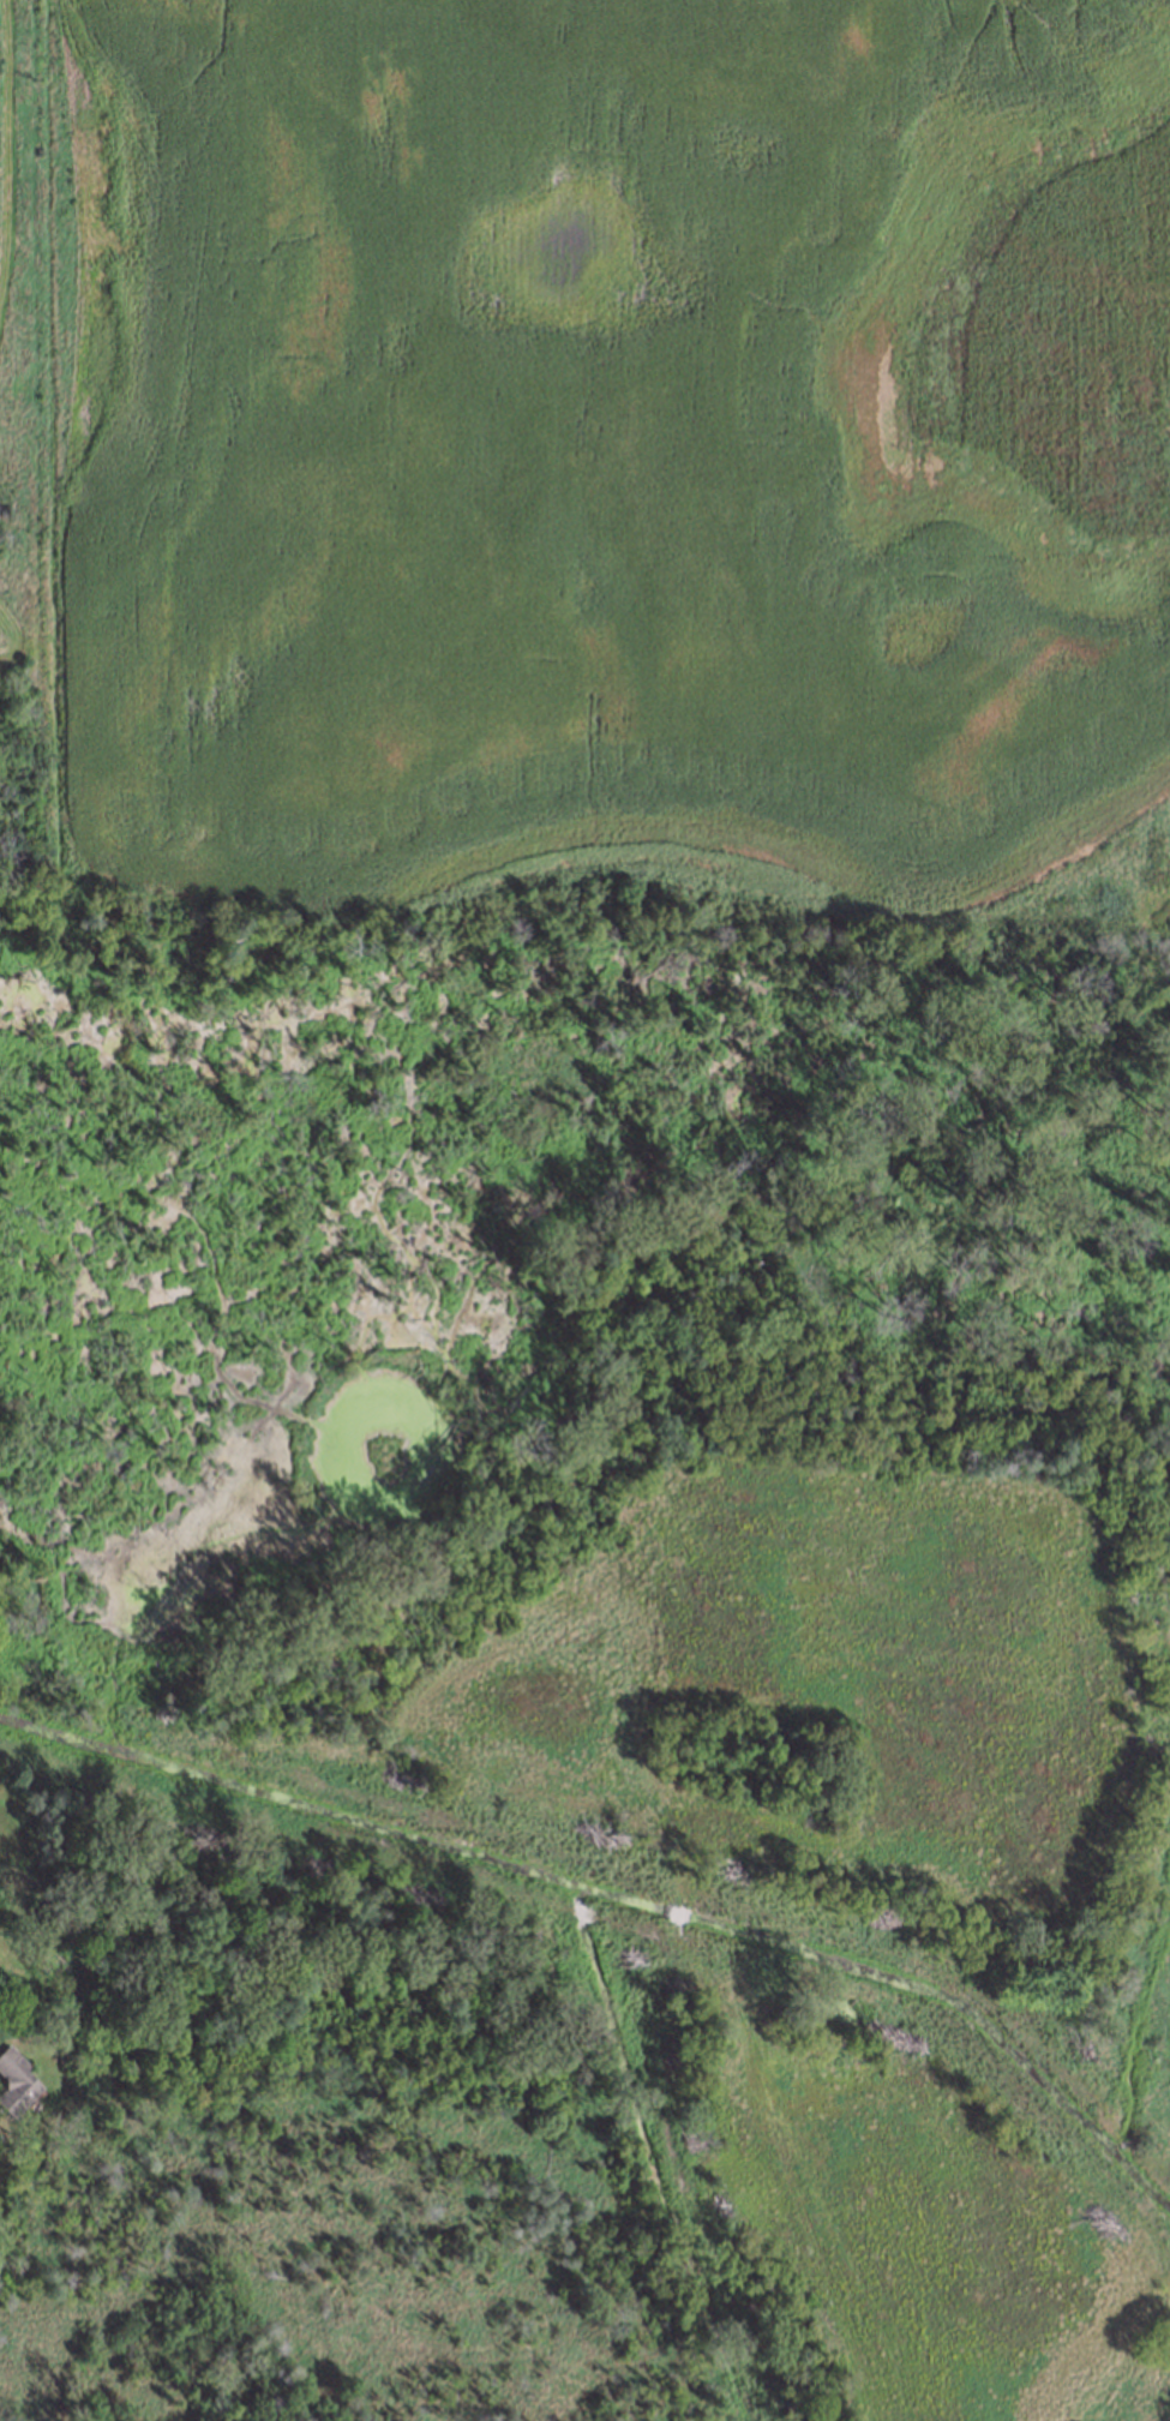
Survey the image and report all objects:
building: (14, 2083)

